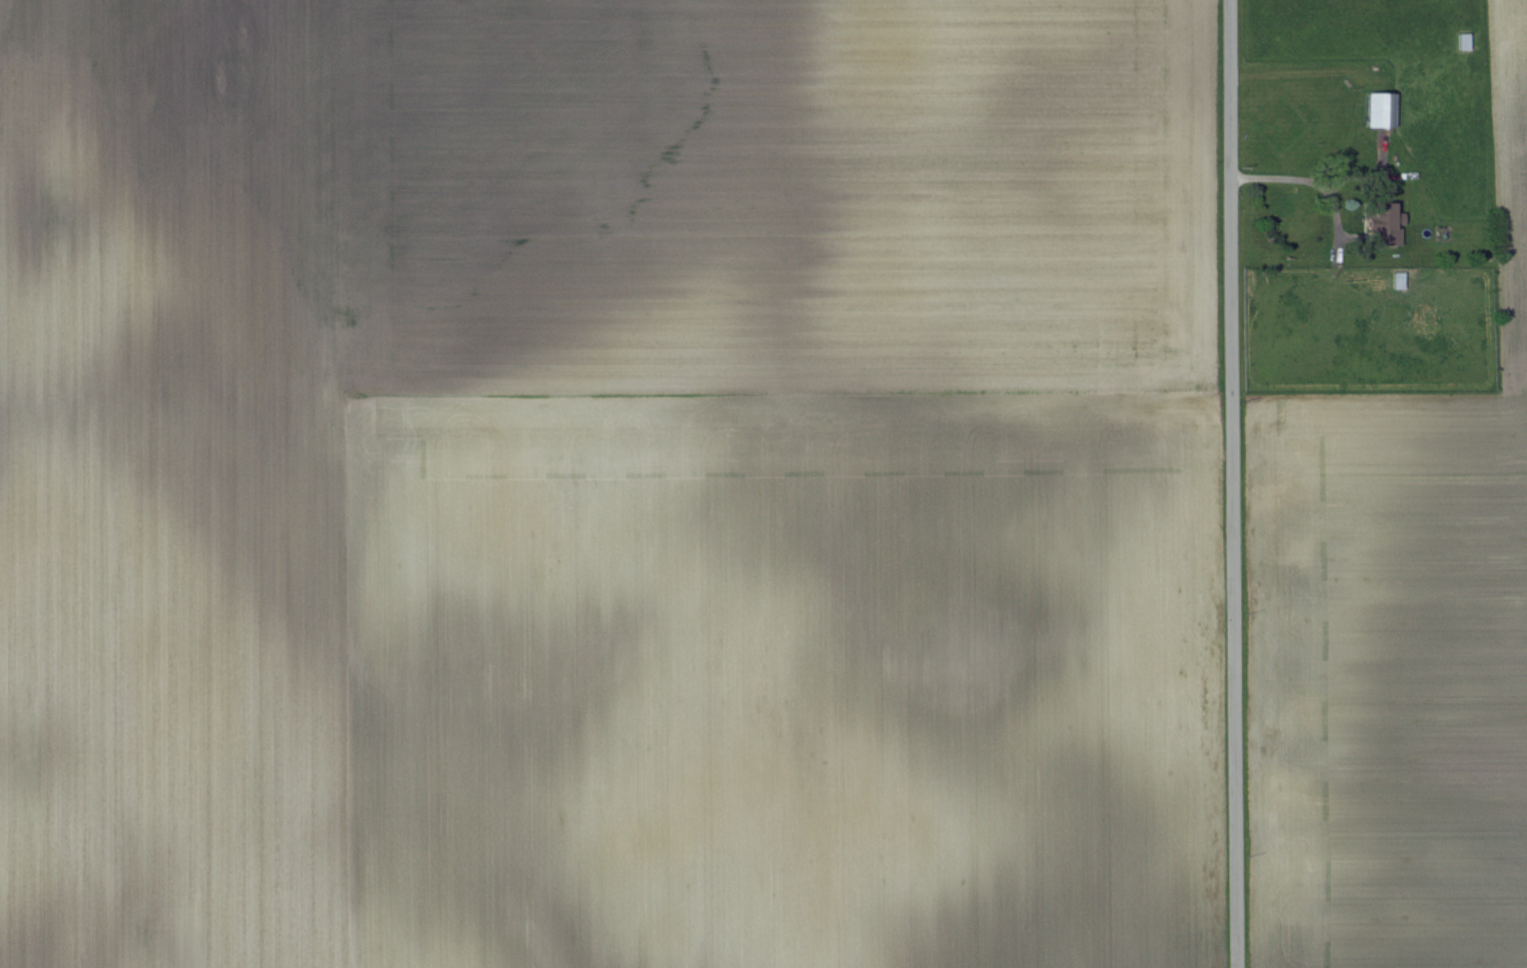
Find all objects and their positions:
building: (1382, 110)
road: (1318, 180)
building: (1387, 224)
road: (1232, 484)

